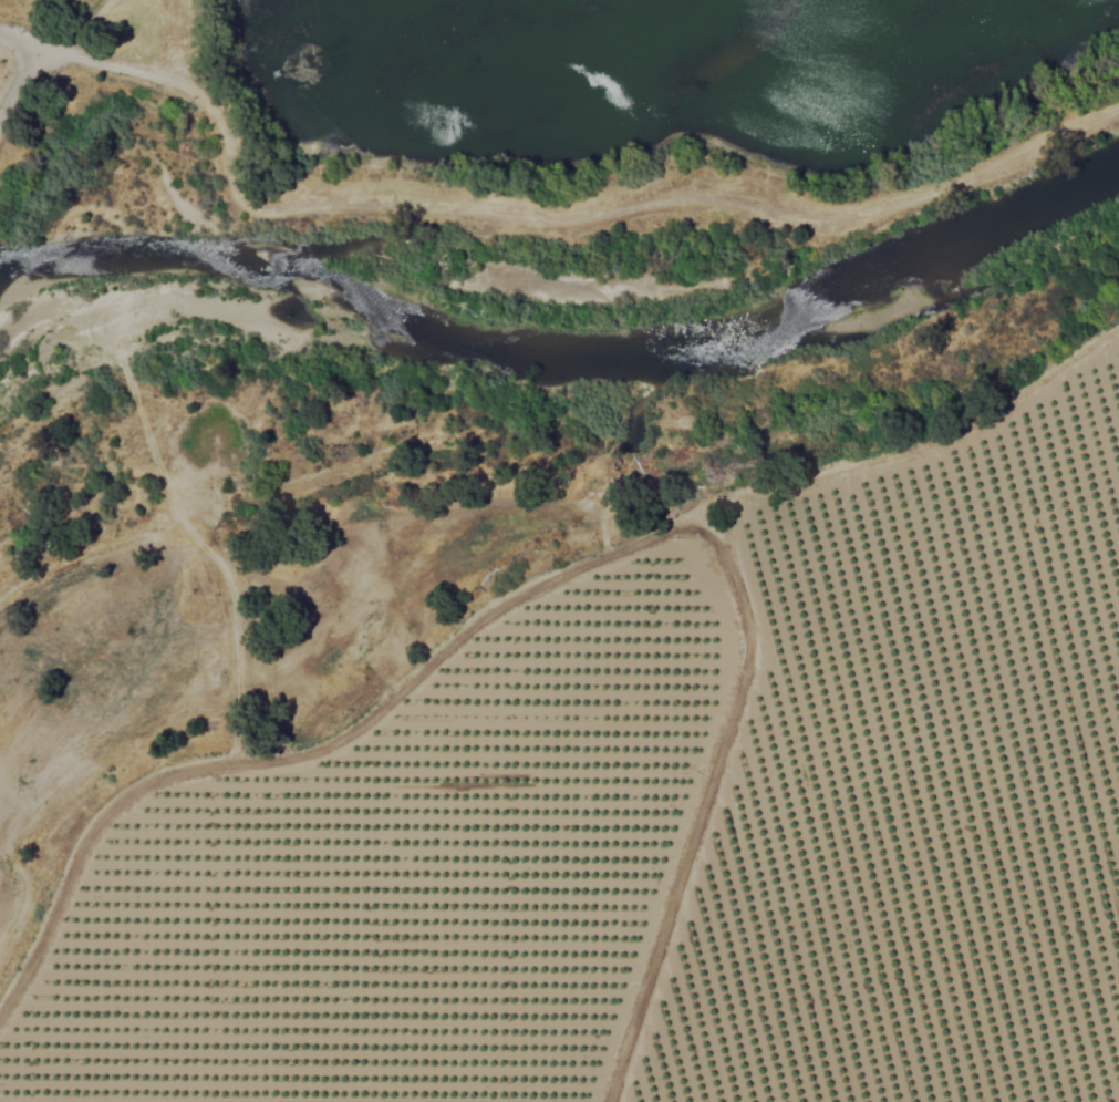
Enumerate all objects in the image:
road: (73, 30)
crop: (1, 35)
road: (15, 42)
road: (14, 78)
road: (545, 219)
river: (566, 351)
road: (704, 804)
crop: (666, 825)

